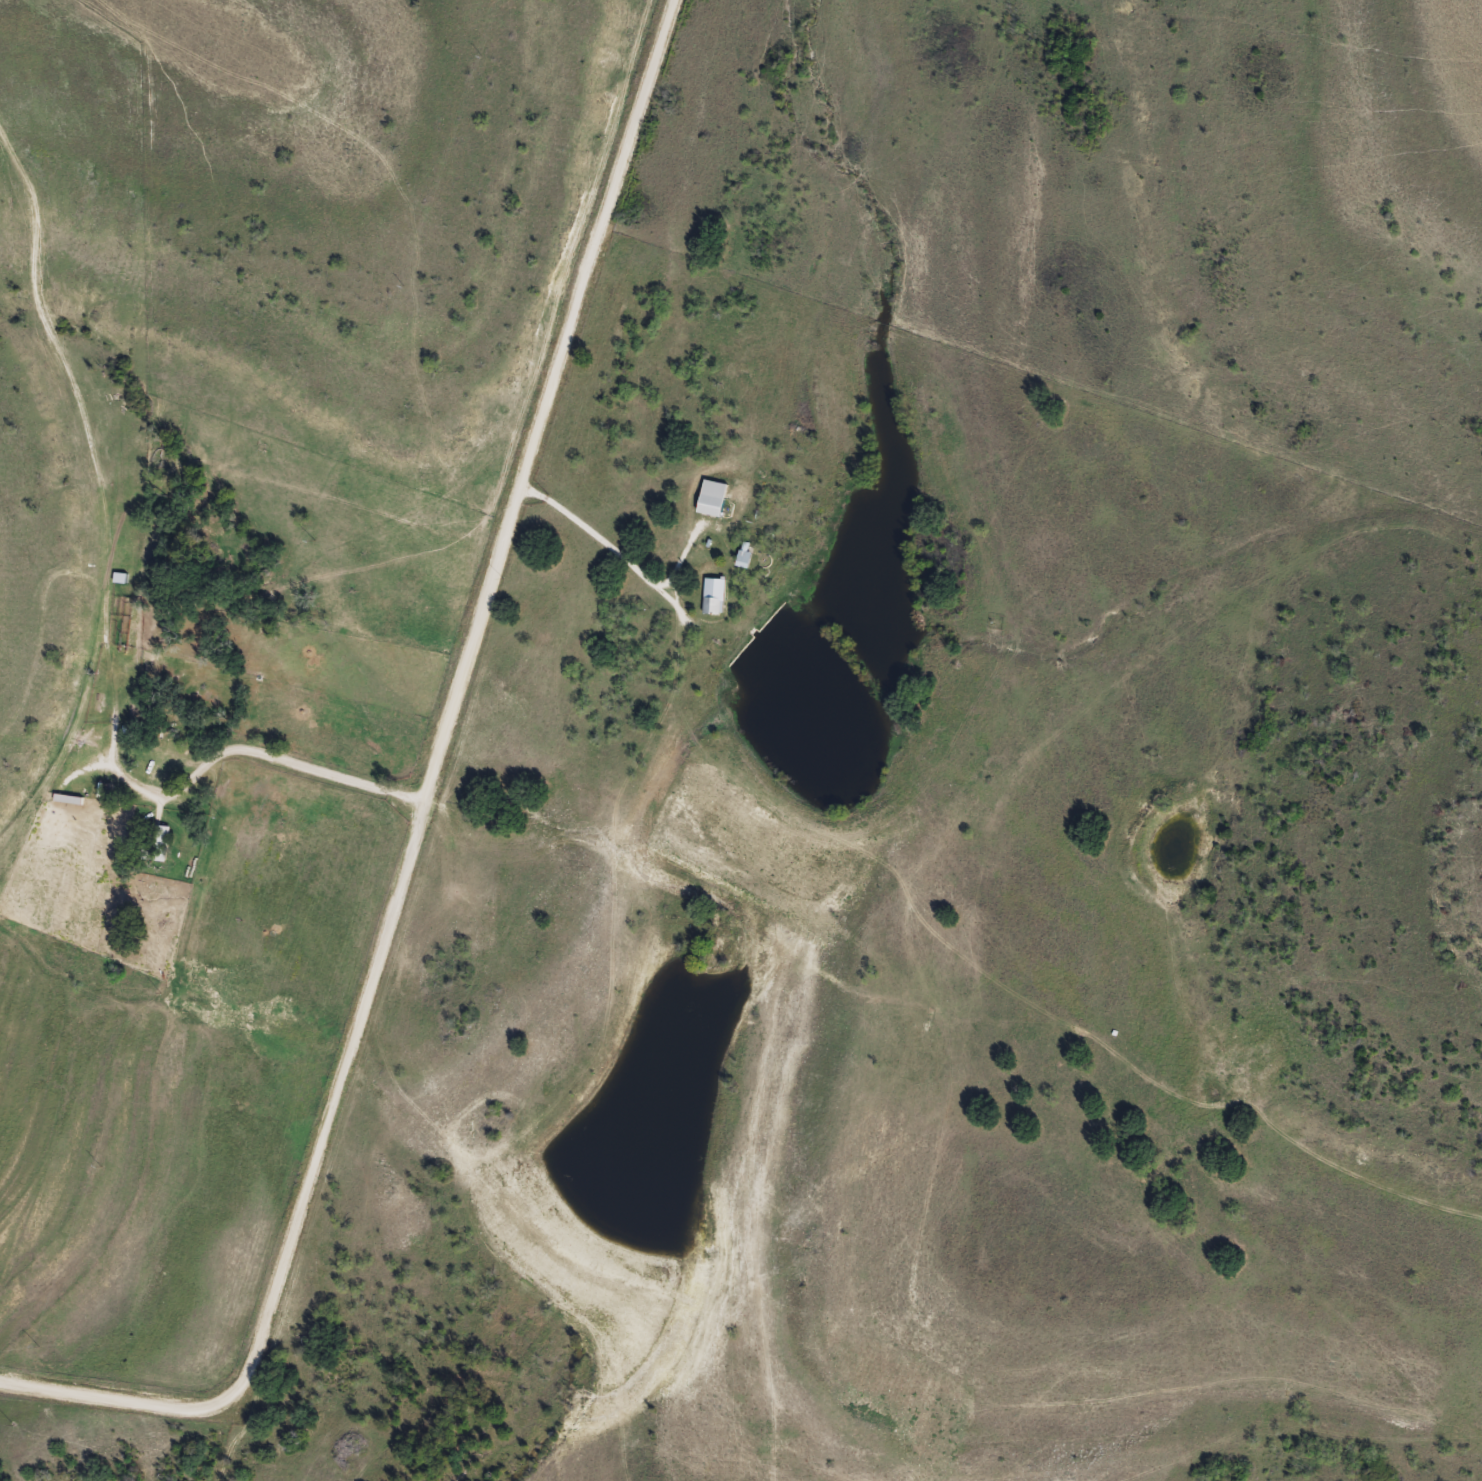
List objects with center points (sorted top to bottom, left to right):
building: (710, 507)
building: (745, 556)
building: (713, 606)
building: (122, 607)
road: (414, 812)
building: (158, 845)

